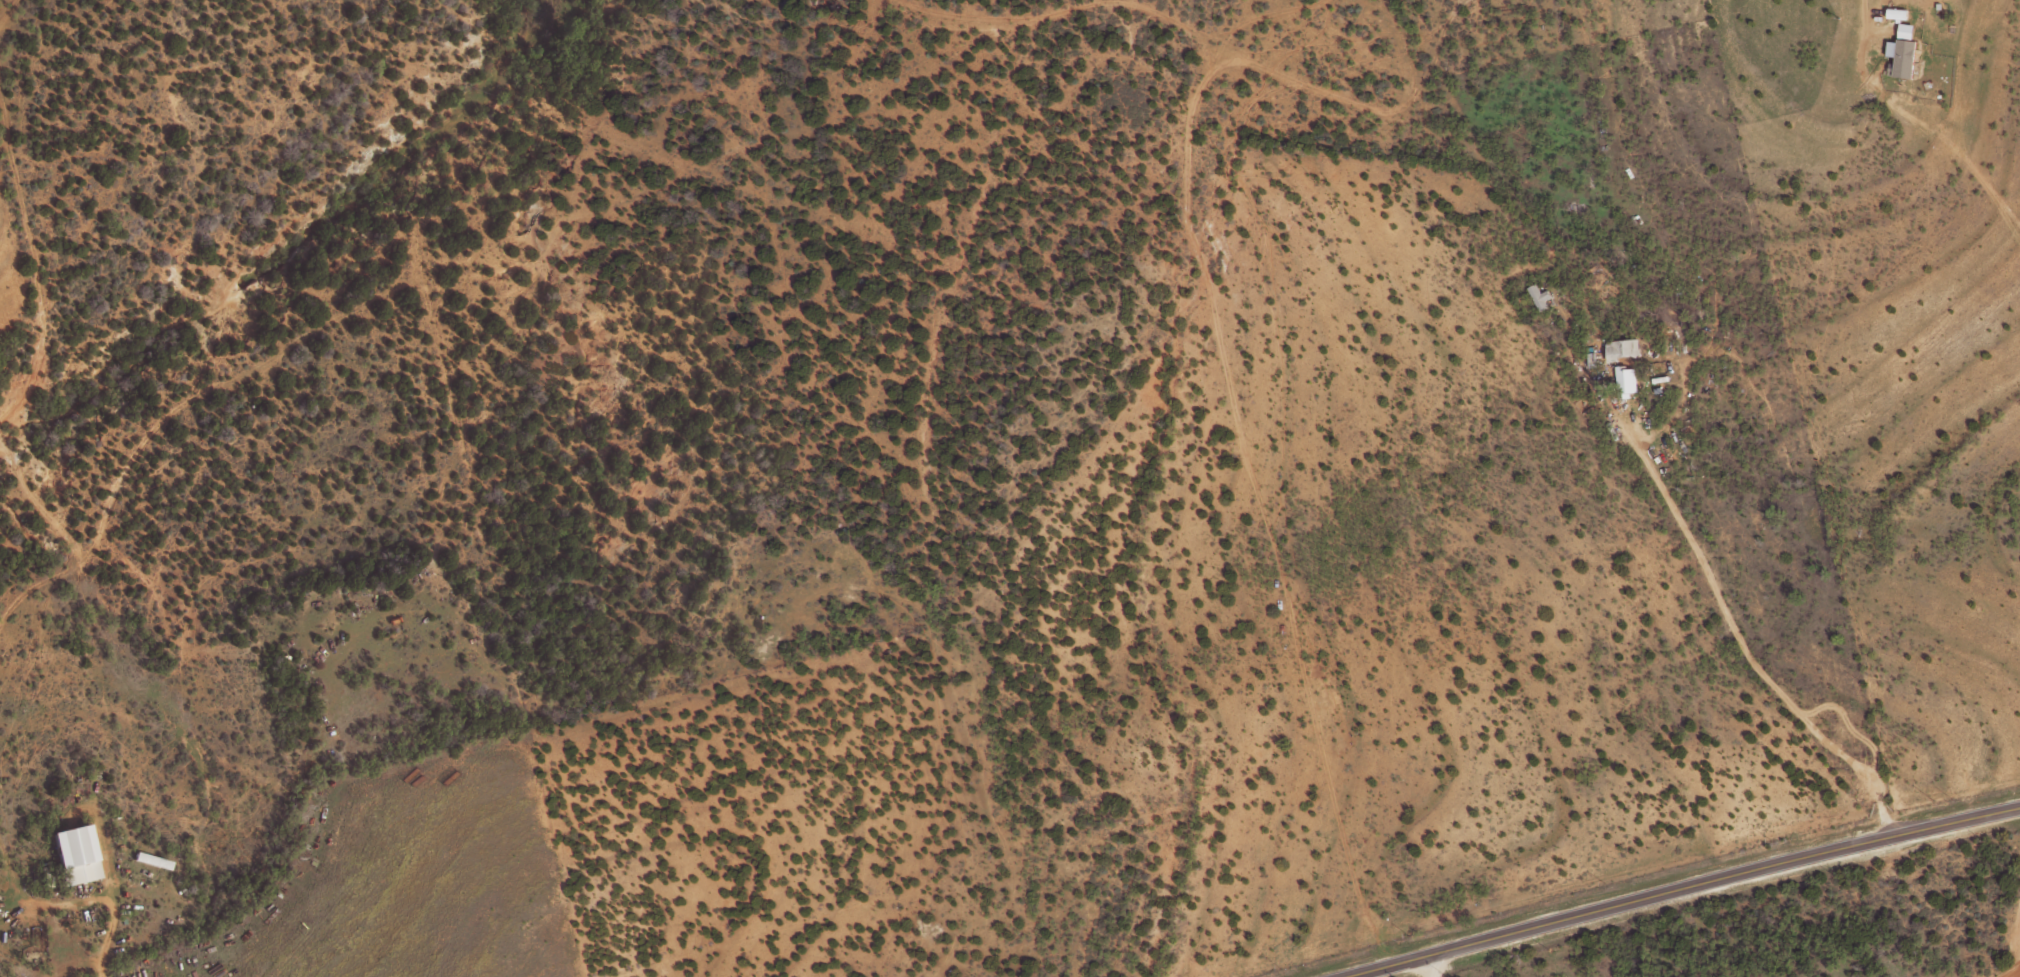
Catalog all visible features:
building: (1896, 13)
building: (1905, 30)
building: (1901, 57)
building: (1539, 297)
building: (1621, 349)
building: (1625, 381)
road: (1713, 632)
building: (73, 855)
road: (1720, 879)
road: (111, 926)
road: (1384, 967)
road: (1432, 967)

